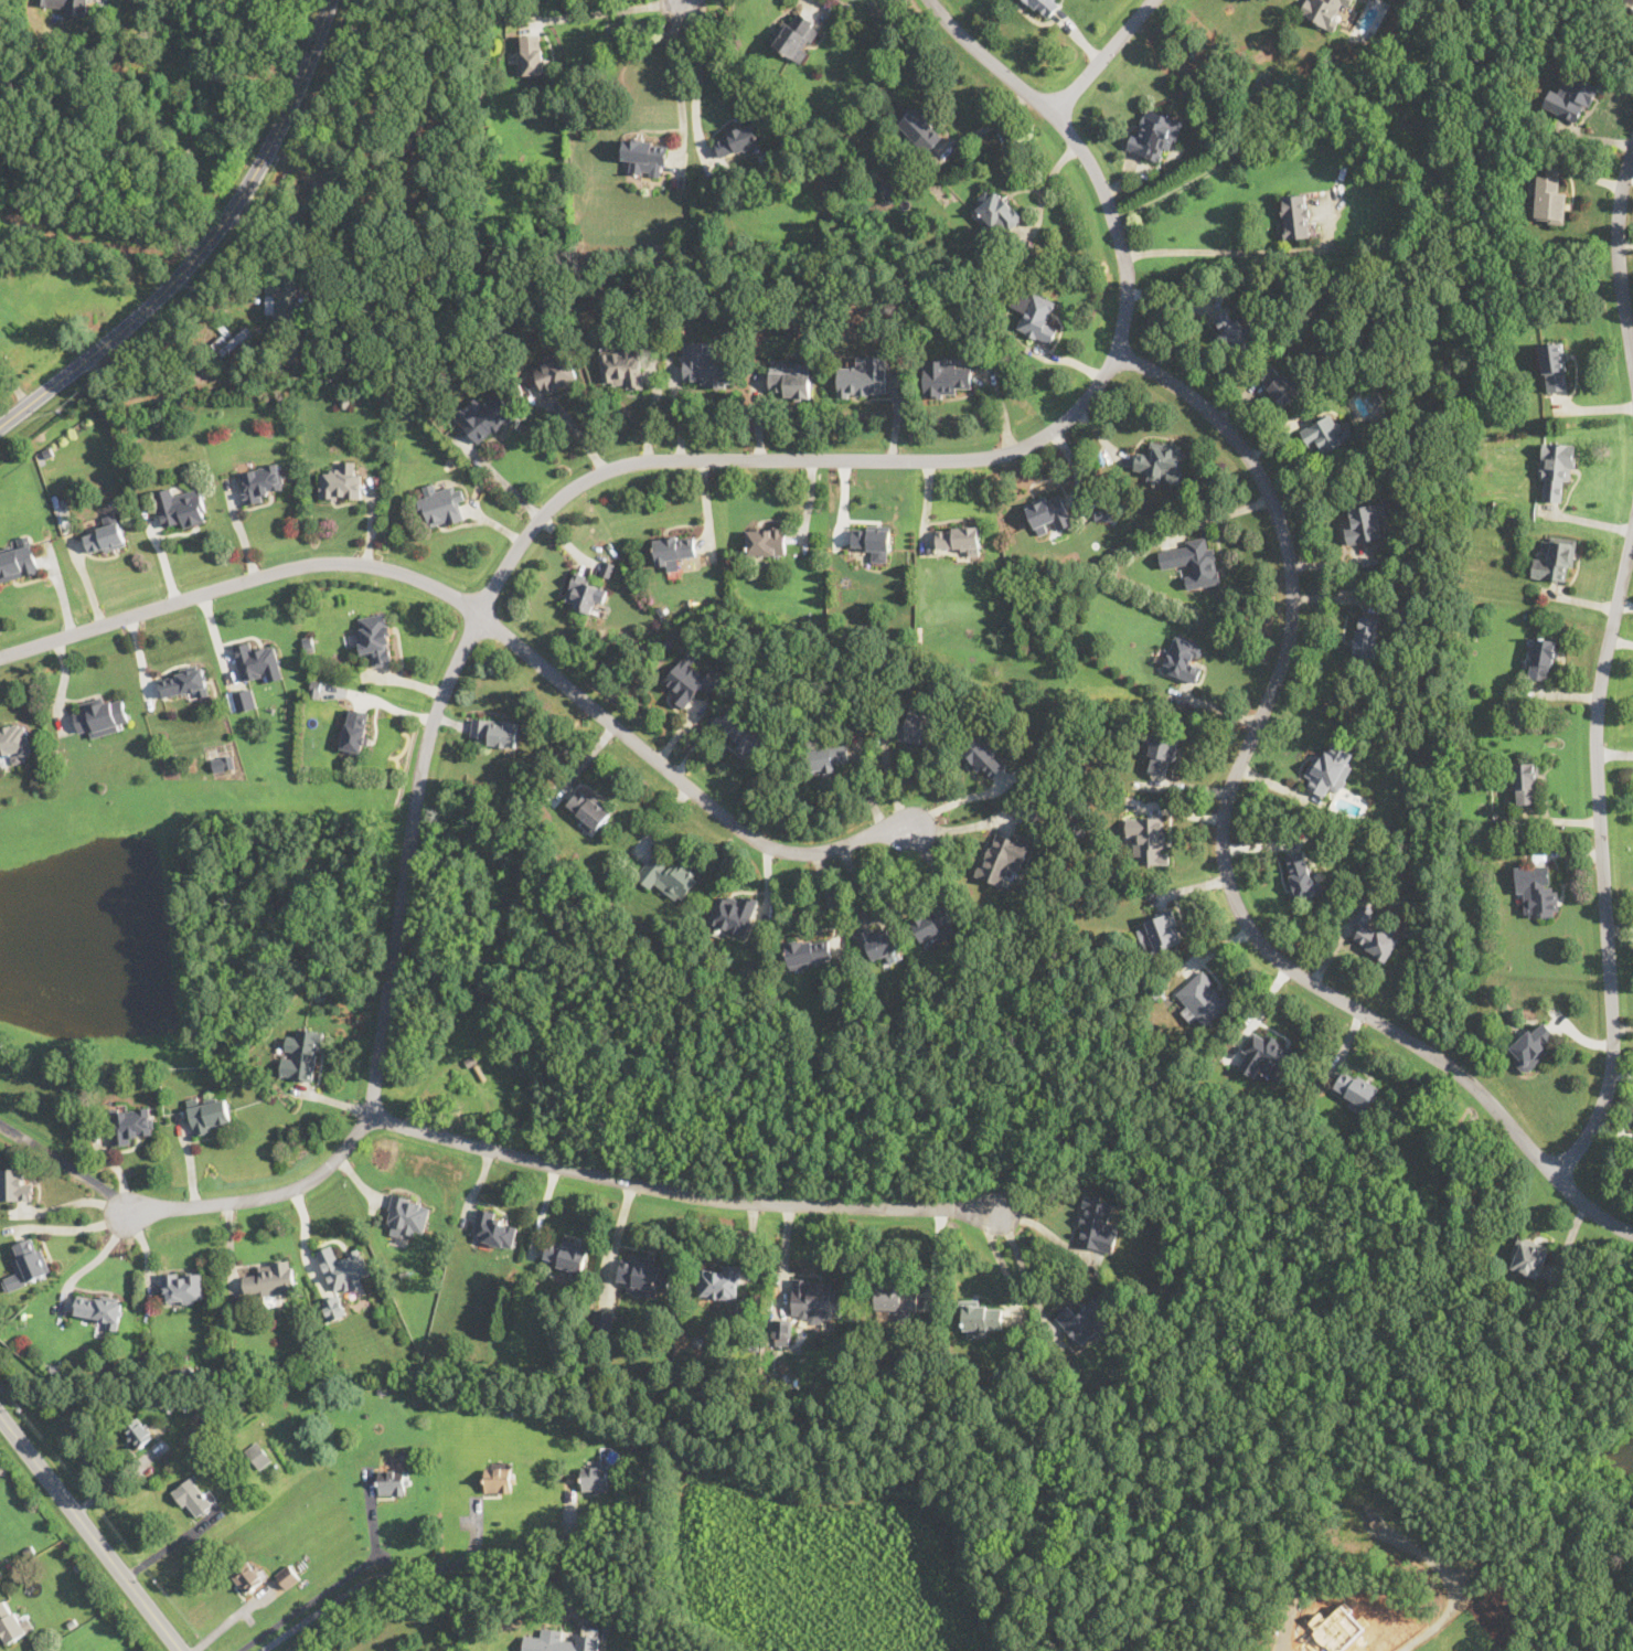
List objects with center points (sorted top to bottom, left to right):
road: (813, 2)
building: (64, 4)
building: (1045, 7)
building: (1324, 11)
road: (606, 12)
building: (797, 34)
building: (531, 54)
road: (1102, 56)
road: (697, 77)
building: (1571, 96)
road: (986, 125)
building: (921, 131)
building: (1154, 134)
building: (737, 139)
building: (645, 156)
building: (890, 184)
building: (1549, 199)
road: (302, 207)
building: (1000, 212)
building: (1296, 215)
road: (92, 232)
road: (204, 244)
road: (1237, 252)
road: (1618, 252)
building: (279, 299)
building: (1036, 316)
building: (1232, 329)
building: (222, 347)
building: (705, 365)
building: (1555, 365)
building: (622, 368)
building: (556, 374)
building: (863, 376)
building: (944, 376)
building: (790, 377)
building: (1279, 383)
building: (484, 416)
building: (1327, 434)
building: (1160, 462)
building: (1556, 468)
road: (604, 470)
road: (500, 478)
building: (262, 481)
building: (340, 481)
building: (442, 505)
building: (181, 507)
building: (1049, 512)
building: (1102, 512)
building: (1364, 523)
building: (105, 537)
building: (958, 537)
building: (873, 540)
building: (766, 541)
building: (673, 550)
building: (1556, 558)
building: (18, 561)
building: (1196, 561)
building: (585, 595)
road: (489, 620)
building: (1366, 637)
building: (375, 638)
building: (1184, 658)
building: (1543, 658)
building: (258, 661)
building: (685, 680)
building: (182, 681)
building: (328, 690)
building: (243, 699)
building: (102, 715)
building: (918, 724)
building: (356, 729)
building: (494, 732)
building: (748, 738)
building: (13, 743)
building: (1162, 752)
building: (829, 757)
building: (983, 757)
building: (223, 763)
building: (1330, 767)
building: (1524, 780)
building: (589, 808)
building: (1149, 839)
road: (1224, 844)
road: (1602, 855)
building: (1002, 856)
building: (666, 873)
building: (1302, 876)
building: (1536, 890)
building: (734, 913)
building: (935, 926)
building: (1161, 929)
building: (1374, 935)
building: (878, 942)
building: (809, 951)
building: (1203, 998)
building: (1531, 1045)
building: (301, 1054)
building: (1264, 1054)
building: (1356, 1087)
building: (209, 1112)
building: (130, 1122)
building: (14, 1185)
road: (679, 1192)
road: (75, 1201)
building: (406, 1215)
building: (1096, 1224)
road: (78, 1227)
building: (493, 1228)
building: (566, 1253)
building: (1529, 1257)
road: (97, 1258)
building: (28, 1263)
building: (343, 1267)
road: (1021, 1267)
building: (645, 1276)
building: (270, 1279)
building: (718, 1281)
building: (183, 1286)
building: (897, 1297)
building: (812, 1300)
building: (334, 1308)
building: (97, 1309)
building: (981, 1318)
building: (604, 1319)
building: (1082, 1321)
building: (781, 1330)
building: (138, 1431)
building: (257, 1456)
building: (599, 1472)
building: (499, 1480)
building: (392, 1481)
building: (192, 1495)
road: (90, 1534)
road: (388, 1569)
building: (247, 1576)
building: (288, 1576)
road: (1440, 1616)
road: (230, 1621)
building: (12, 1622)
building: (561, 1641)

